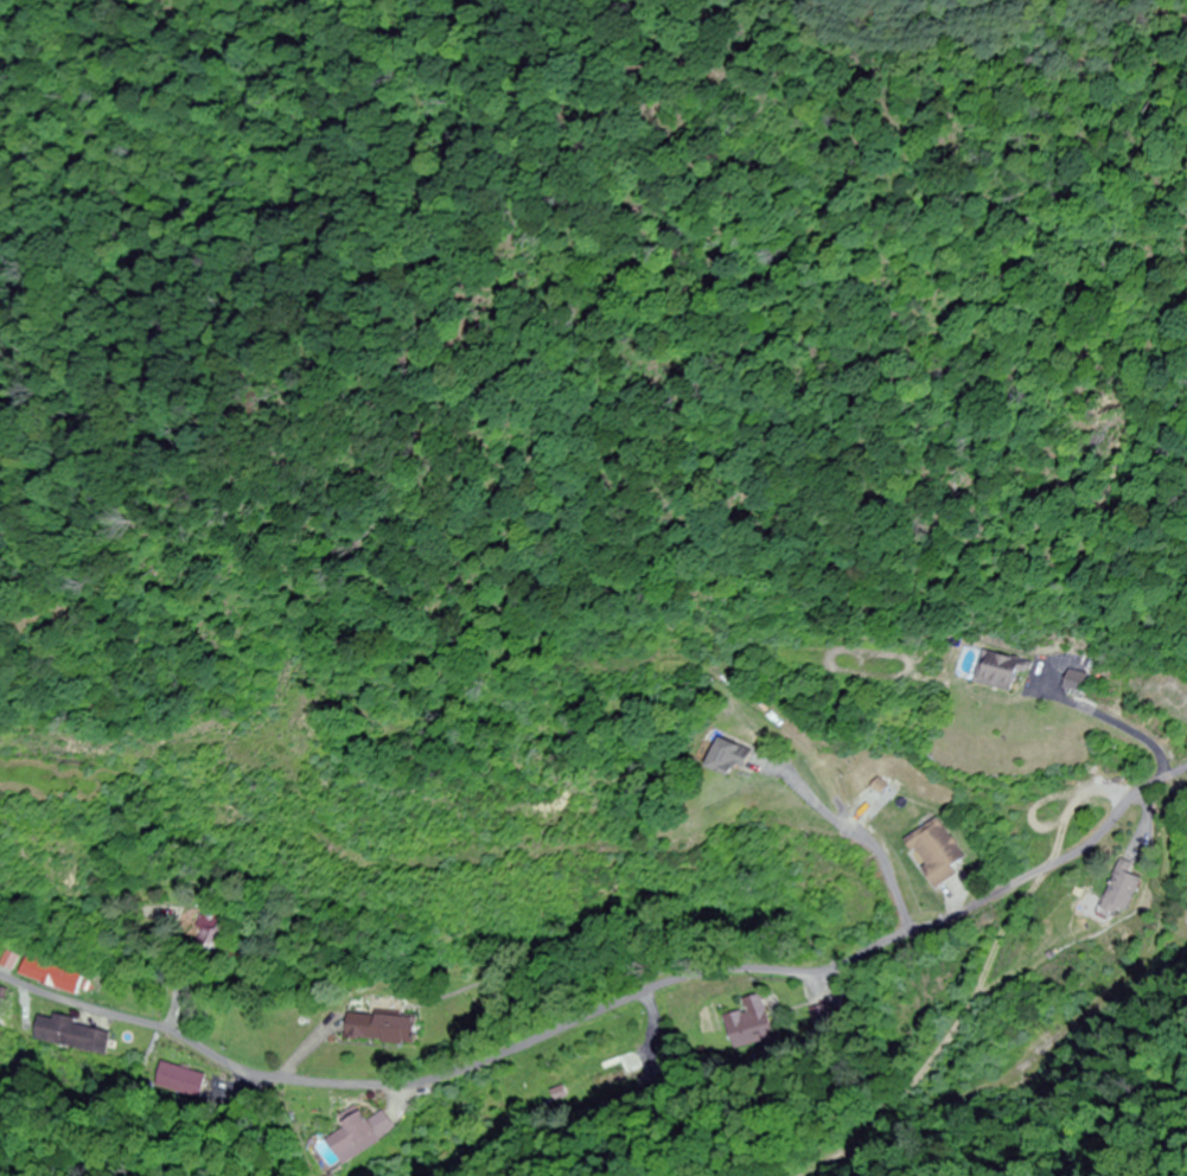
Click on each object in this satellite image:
building: (998, 671)
building: (1077, 684)
building: (732, 759)
building: (943, 851)
building: (1122, 889)
building: (213, 933)
building: (53, 974)
road: (606, 1001)
building: (757, 1021)
building: (383, 1029)
building: (181, 1081)
building: (358, 1136)

